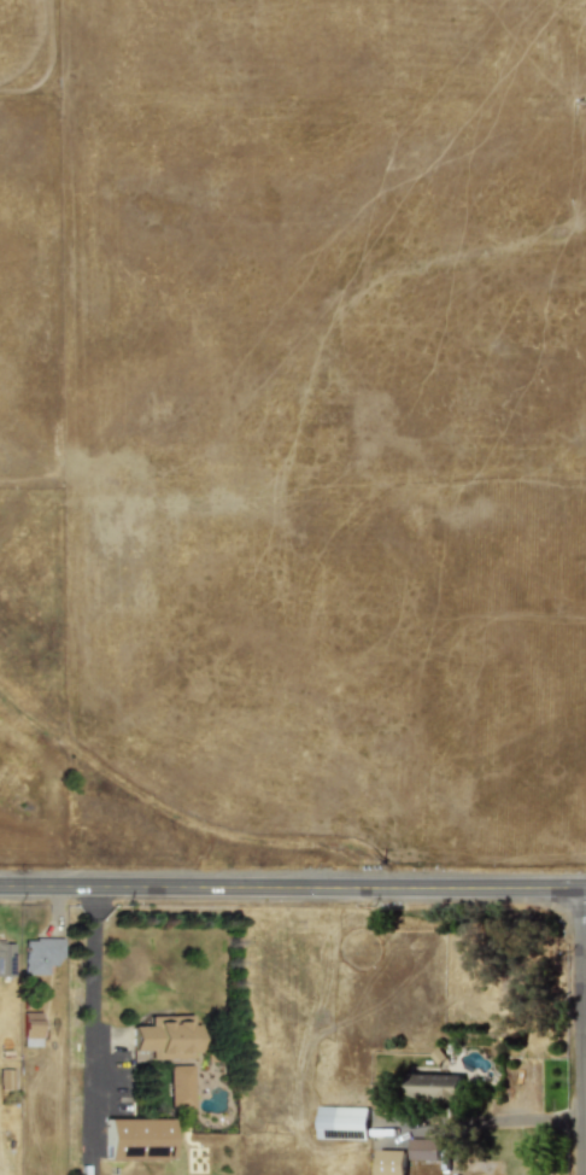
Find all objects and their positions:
road: (293, 892)
building: (40, 954)
building: (5, 957)
road: (92, 1018)
building: (30, 1029)
road: (579, 1033)
building: (165, 1036)
building: (4, 1078)
building: (180, 1086)
building: (434, 1086)
road: (508, 1121)
building: (341, 1122)
building: (136, 1139)
building: (422, 1148)
building: (389, 1163)

